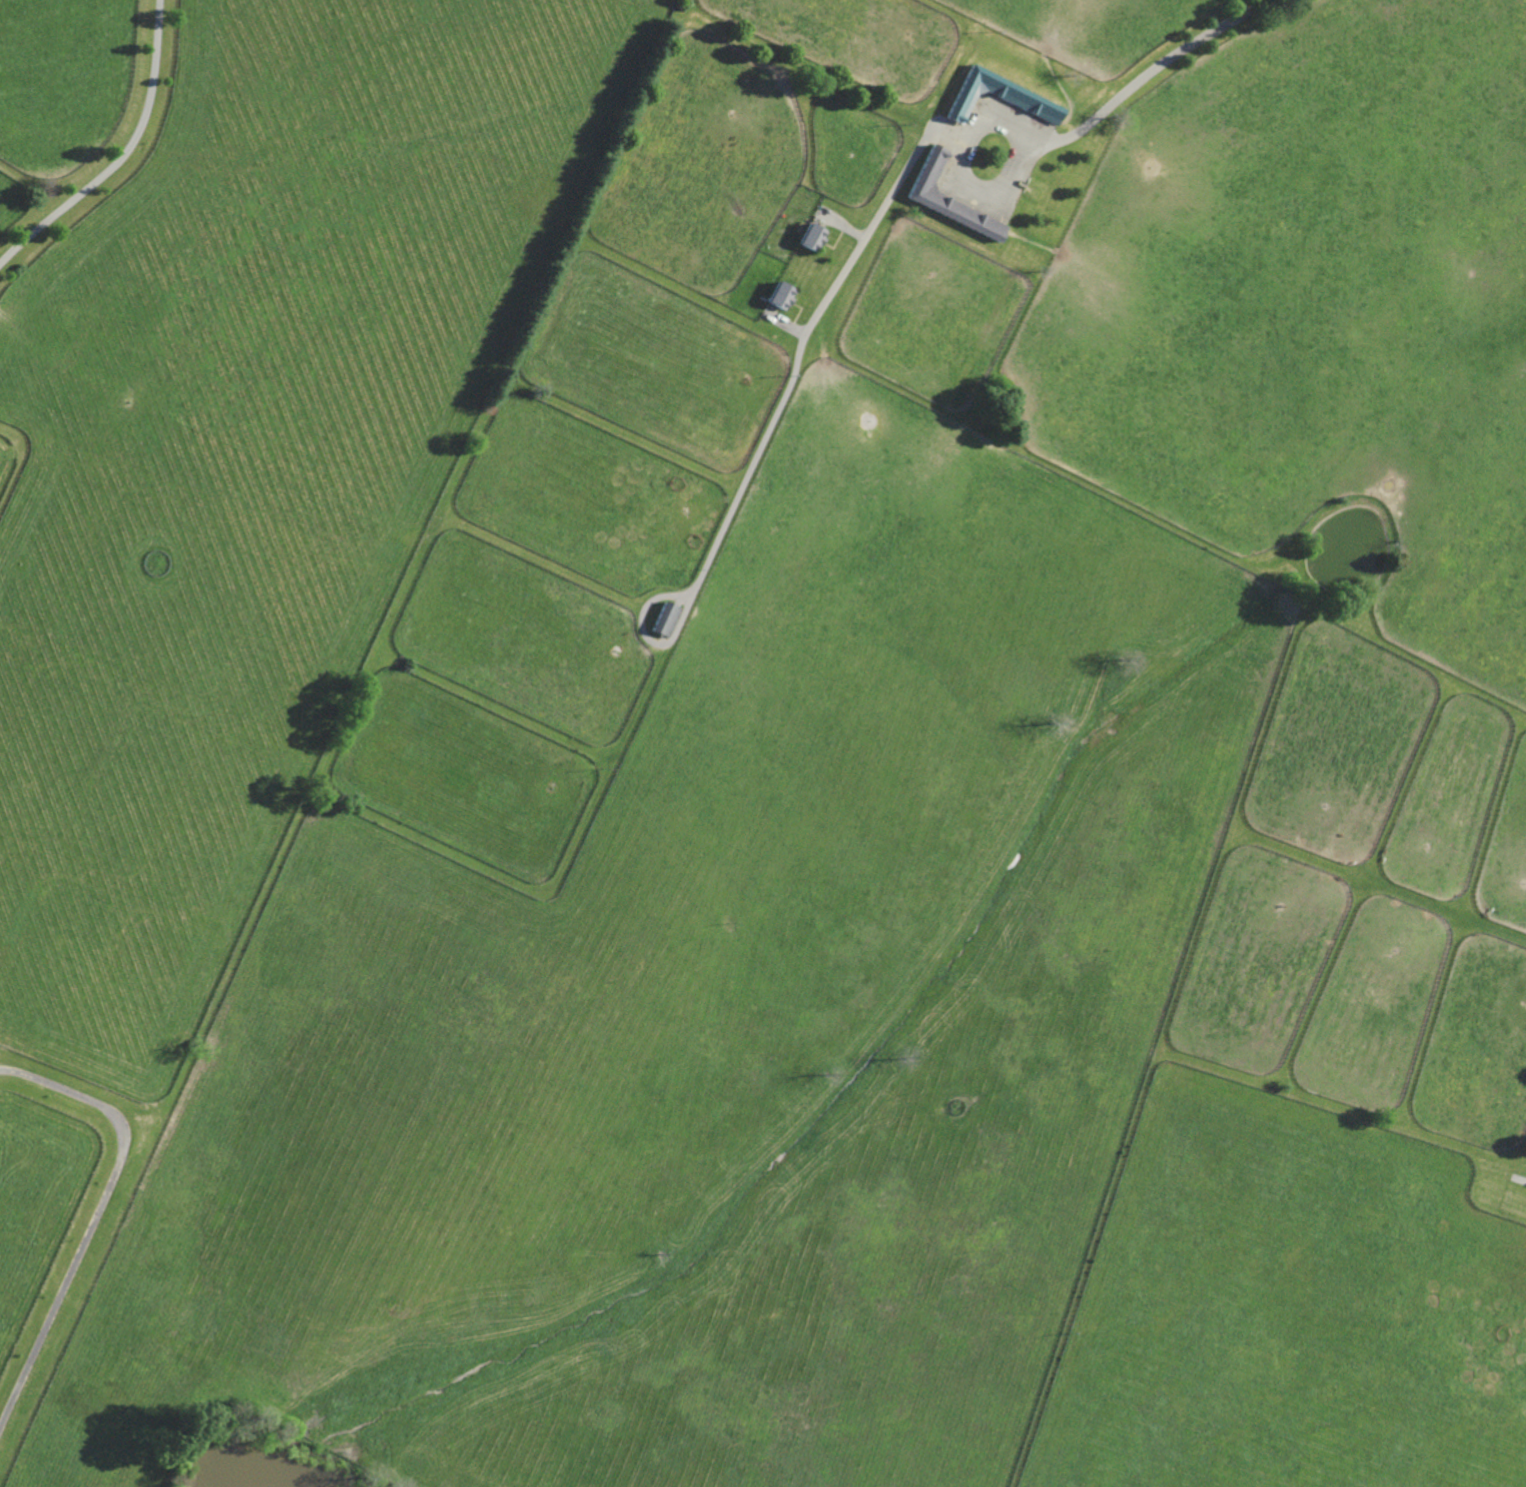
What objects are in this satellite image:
road: (1153, 75)
building: (999, 94)
building: (989, 154)
road: (123, 157)
building: (949, 197)
silo: (1472, 201)
building: (812, 235)
building: (780, 295)
building: (749, 310)
building: (666, 618)
road: (97, 1215)

